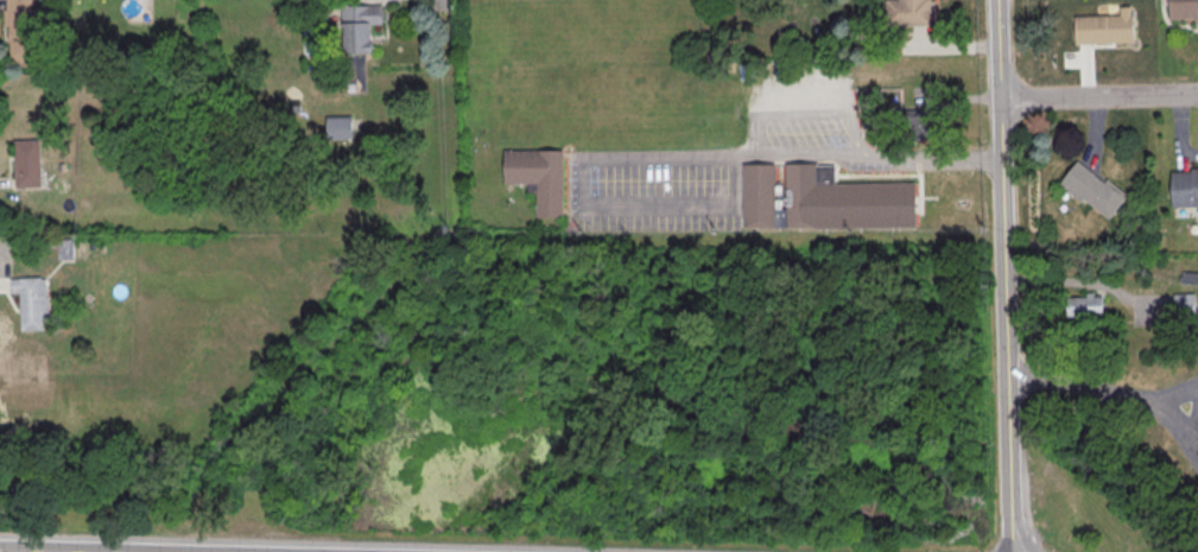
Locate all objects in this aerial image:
road: (439, 6)
building: (1184, 11)
building: (909, 14)
building: (19, 20)
building: (359, 26)
building: (1104, 32)
road: (999, 50)
road: (1098, 96)
building: (920, 127)
road: (671, 157)
building: (27, 167)
building: (538, 180)
building: (1185, 191)
building: (1094, 192)
building: (823, 201)
building: (65, 249)
building: (31, 304)
building: (1185, 309)
building: (1085, 310)
road: (1003, 326)
road: (1103, 387)
road: (1181, 418)
park: (647, 423)
road: (31, 551)

